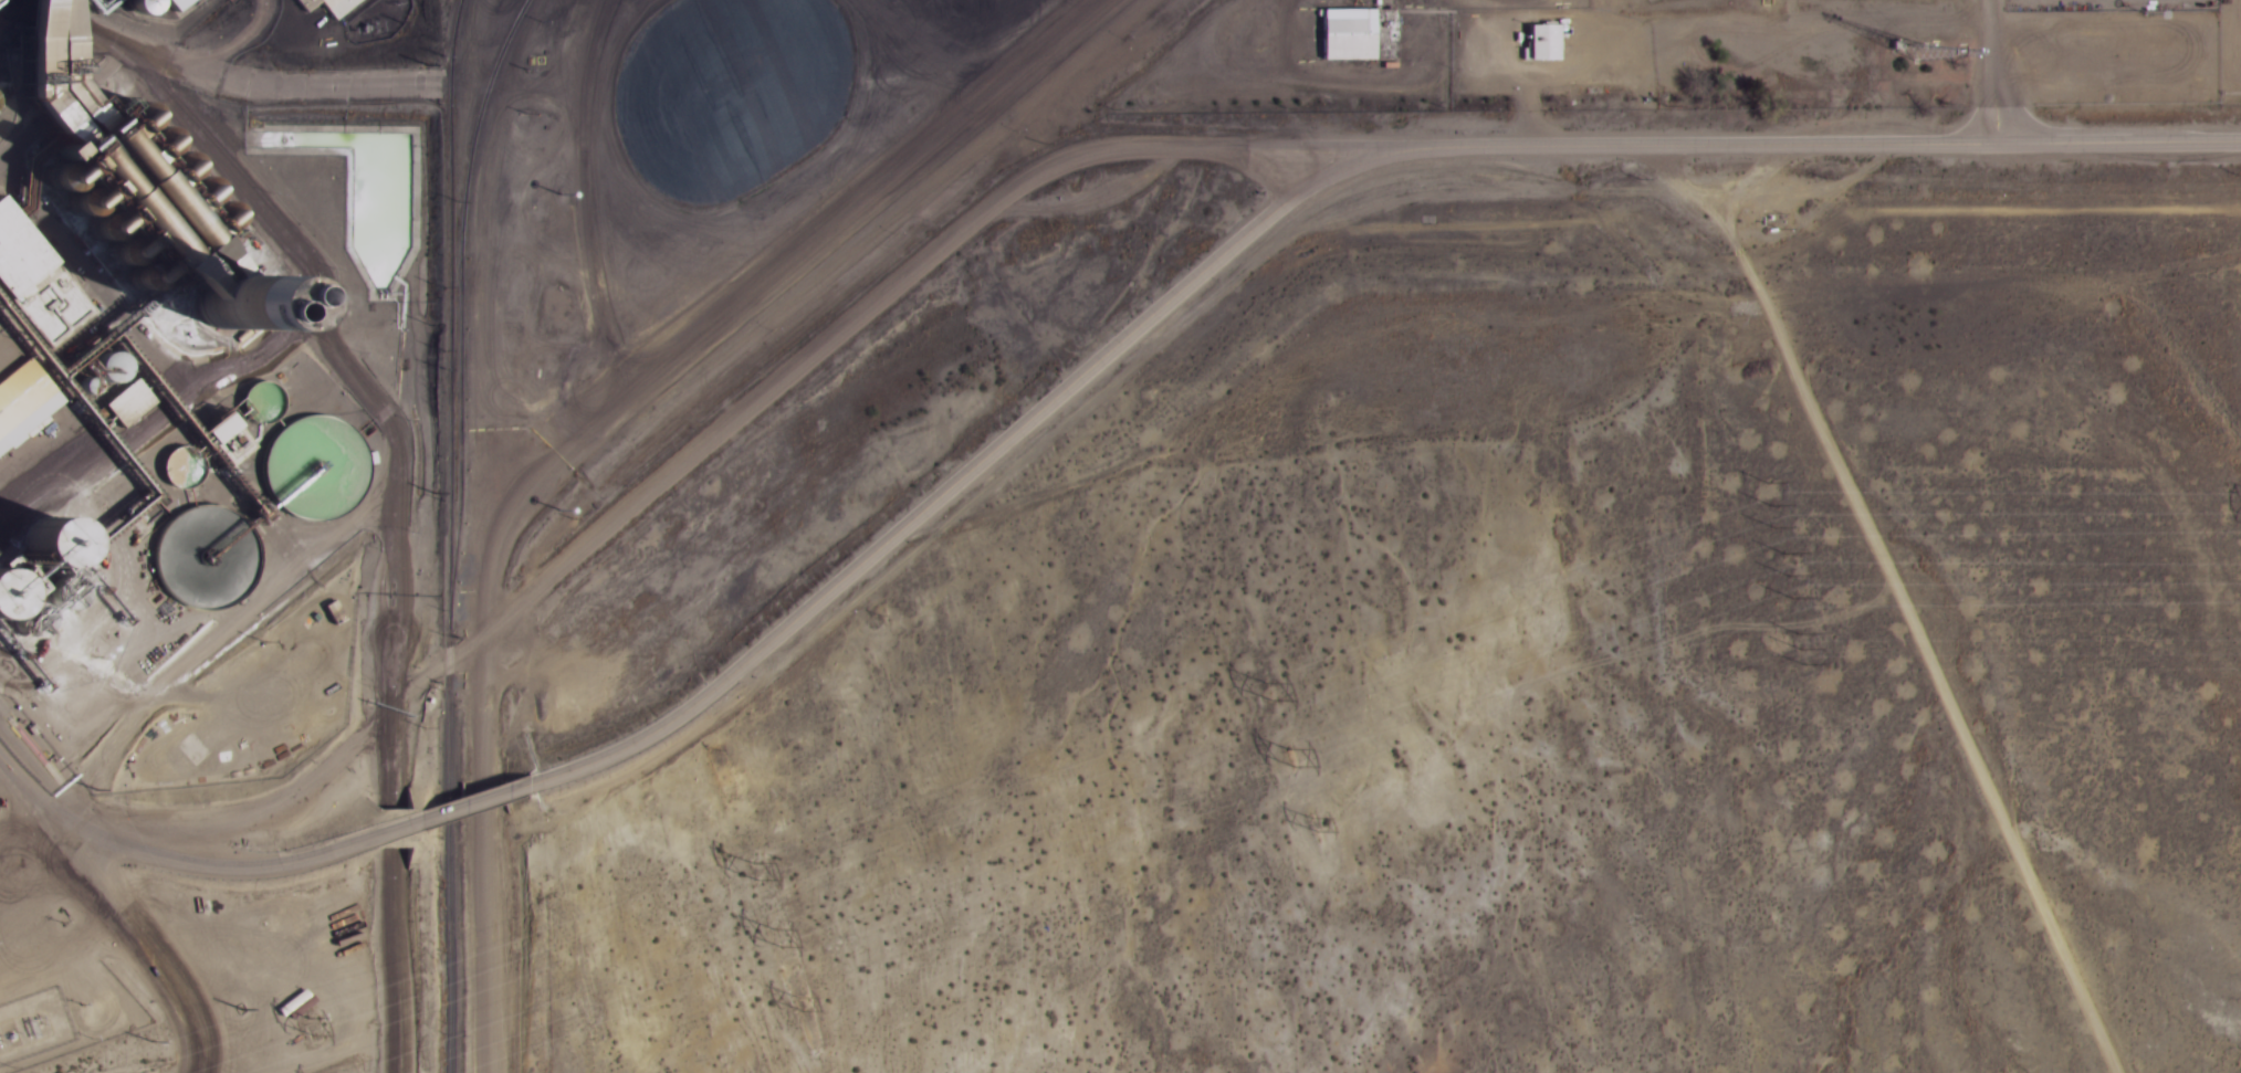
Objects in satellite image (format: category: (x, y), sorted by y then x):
building: (329, 6)
building: (17, 8)
building: (1360, 34)
building: (54, 67)
road: (1950, 144)
railway: (472, 167)
building: (135, 204)
road: (775, 249)
power plant: (614, 275)
building: (32, 287)
chimney: (220, 308)
road: (481, 382)
road: (1071, 396)
building: (19, 401)
building: (132, 402)
building: (234, 438)
building: (312, 462)
power tower: (1768, 501)
railway: (449, 535)
building: (36, 547)
storage tank: (36, 547)
building: (209, 559)
power tower: (1789, 568)
building: (1, 598)
storage tank: (1, 598)
road: (1902, 600)
power tower: (1800, 644)
power tower: (1275, 686)
power tower: (1296, 751)
road: (20, 802)
road: (475, 803)
power tower: (1320, 817)
power tower: (761, 864)
road: (231, 873)
power tower: (784, 929)
road: (135, 941)
power tower: (807, 998)
power tower: (315, 1022)

